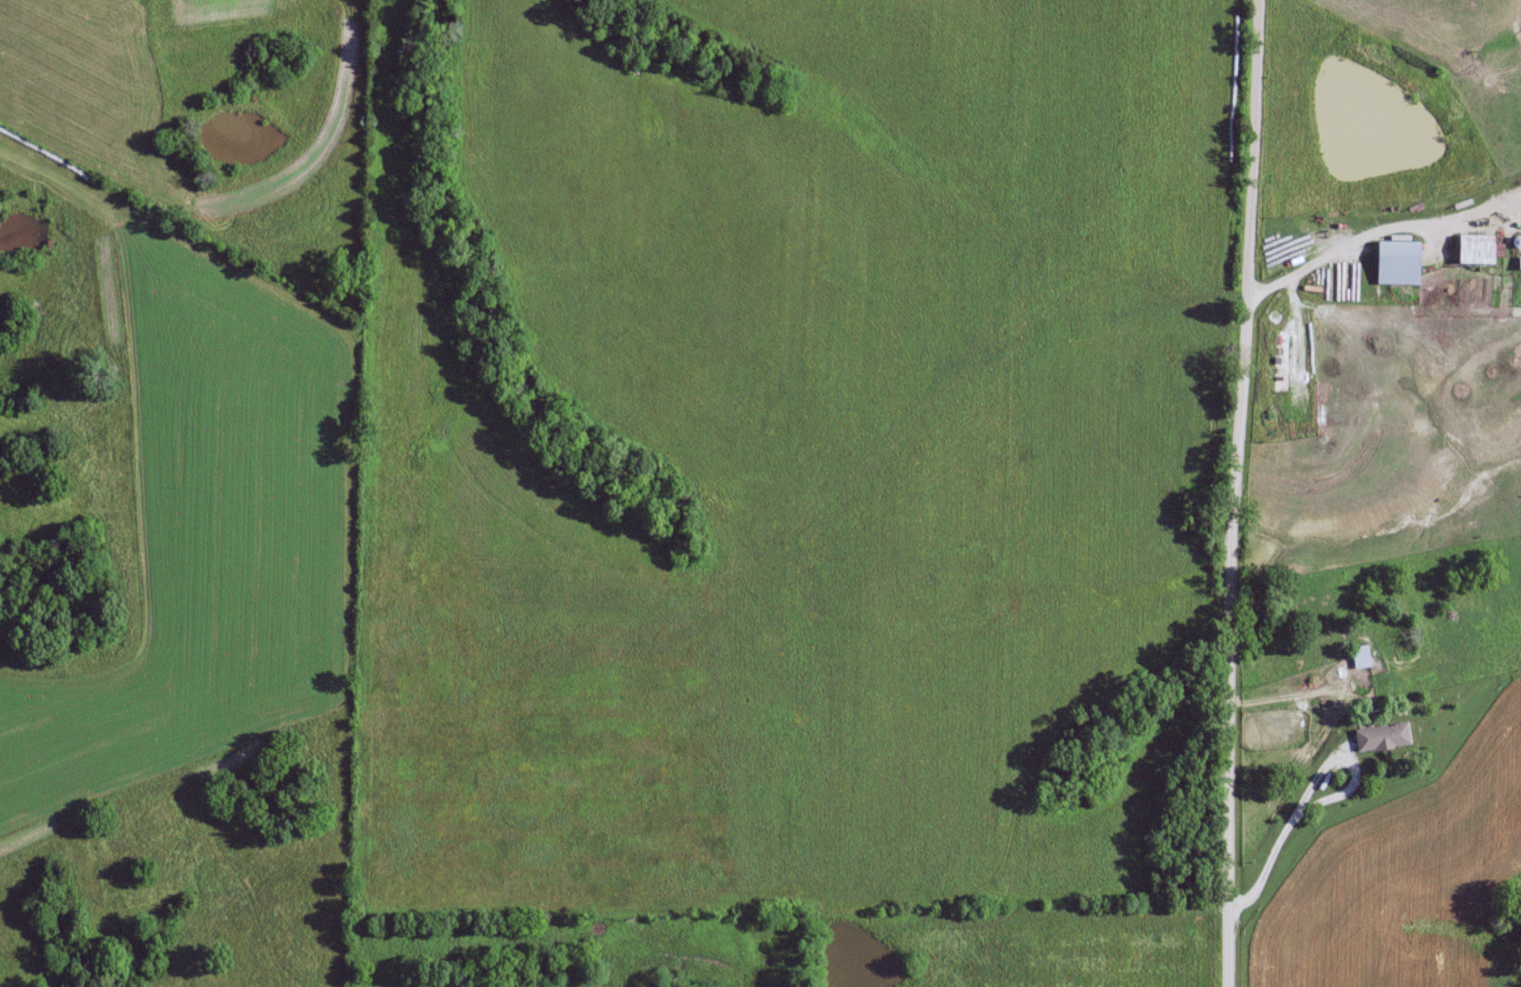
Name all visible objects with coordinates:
building: (1473, 250)
building: (1395, 263)
building: (1518, 264)
road: (1316, 265)
road: (1242, 493)
building: (1360, 658)
building: (1375, 741)
road: (1303, 787)

